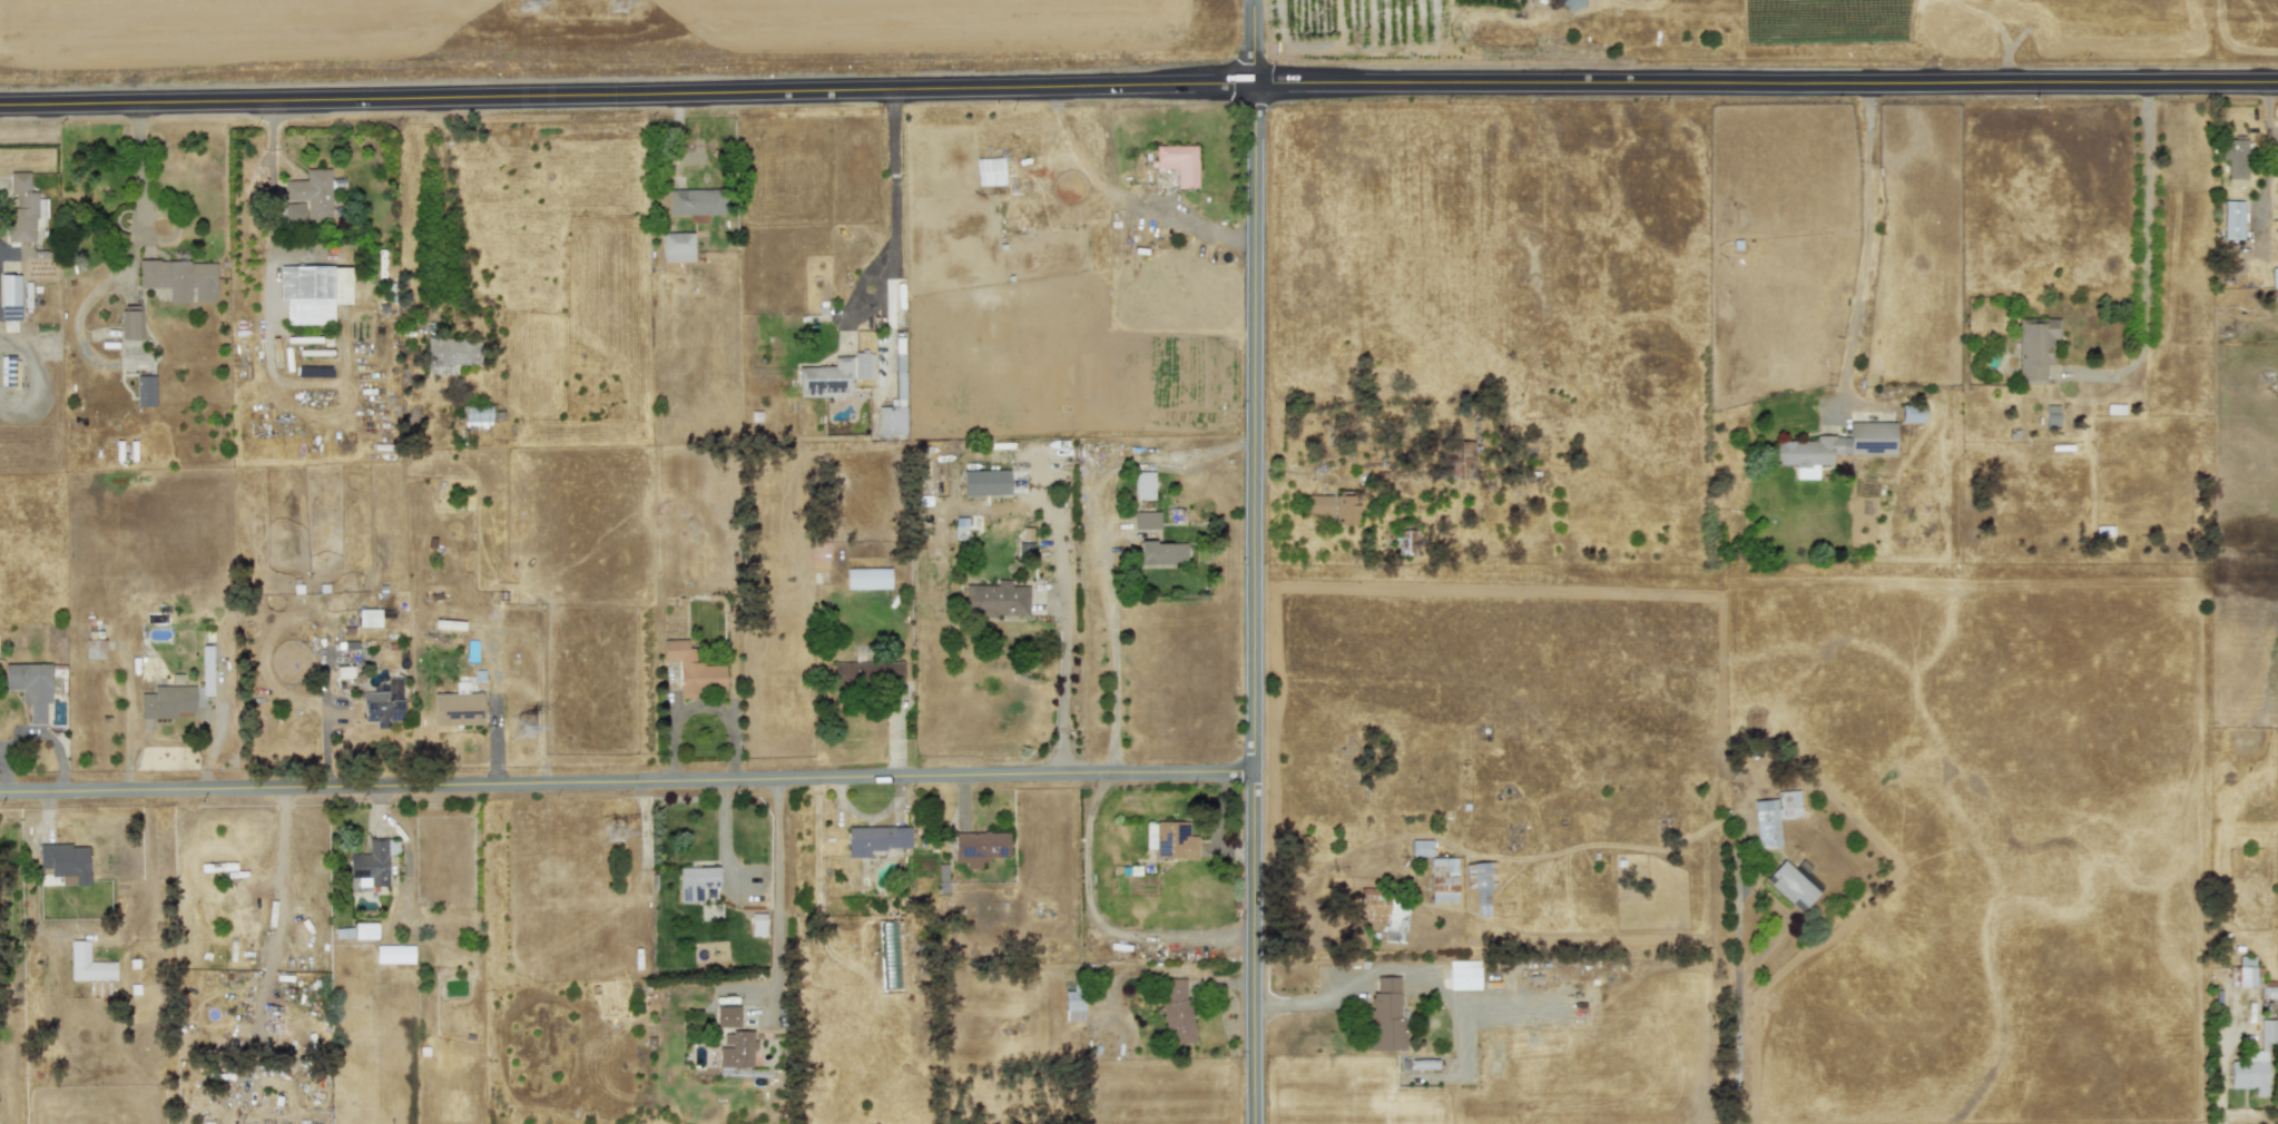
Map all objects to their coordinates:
power tower: (538, 3)
power tower: (626, 8)
road: (1254, 41)
road: (1765, 83)
road: (627, 95)
building: (2233, 156)
building: (1178, 162)
road: (139, 169)
building: (1015, 169)
road: (894, 179)
building: (312, 193)
road: (271, 195)
building: (696, 201)
road: (436, 207)
building: (23, 209)
building: (293, 211)
road: (2146, 218)
building: (2232, 219)
building: (677, 246)
road: (1863, 253)
building: (2274, 277)
building: (179, 278)
building: (313, 293)
building: (9, 297)
building: (2034, 347)
building: (450, 354)
building: (6, 369)
building: (834, 375)
building: (145, 391)
building: (1911, 413)
building: (892, 414)
building: (475, 415)
building: (2051, 416)
building: (1835, 446)
building: (1460, 460)
building: (985, 483)
building: (1143, 485)
building: (1332, 507)
building: (1146, 520)
building: (1406, 543)
building: (1024, 548)
building: (1161, 553)
building: (818, 555)
building: (867, 579)
building: (995, 599)
road: (1254, 604)
building: (369, 618)
building: (95, 644)
road: (1061, 647)
building: (694, 669)
building: (207, 670)
building: (867, 673)
road: (1113, 677)
building: (30, 687)
building: (166, 701)
building: (384, 702)
building: (459, 707)
road: (700, 708)
power tower: (532, 729)
road: (626, 782)
building: (1774, 816)
power tower: (617, 831)
building: (875, 839)
building: (1170, 840)
building: (979, 847)
building: (1421, 847)
building: (66, 862)
building: (372, 862)
building: (1443, 880)
building: (695, 881)
building: (1481, 884)
building: (1794, 884)
road: (776, 899)
road: (274, 900)
building: (1385, 913)
building: (757, 924)
road: (1099, 925)
building: (365, 930)
building: (394, 954)
building: (87, 964)
road: (1395, 972)
building: (1464, 975)
building: (2250, 977)
building: (1073, 1005)
road: (1736, 1009)
building: (1176, 1010)
building: (1385, 1015)
building: (737, 1049)
building: (2255, 1061)

